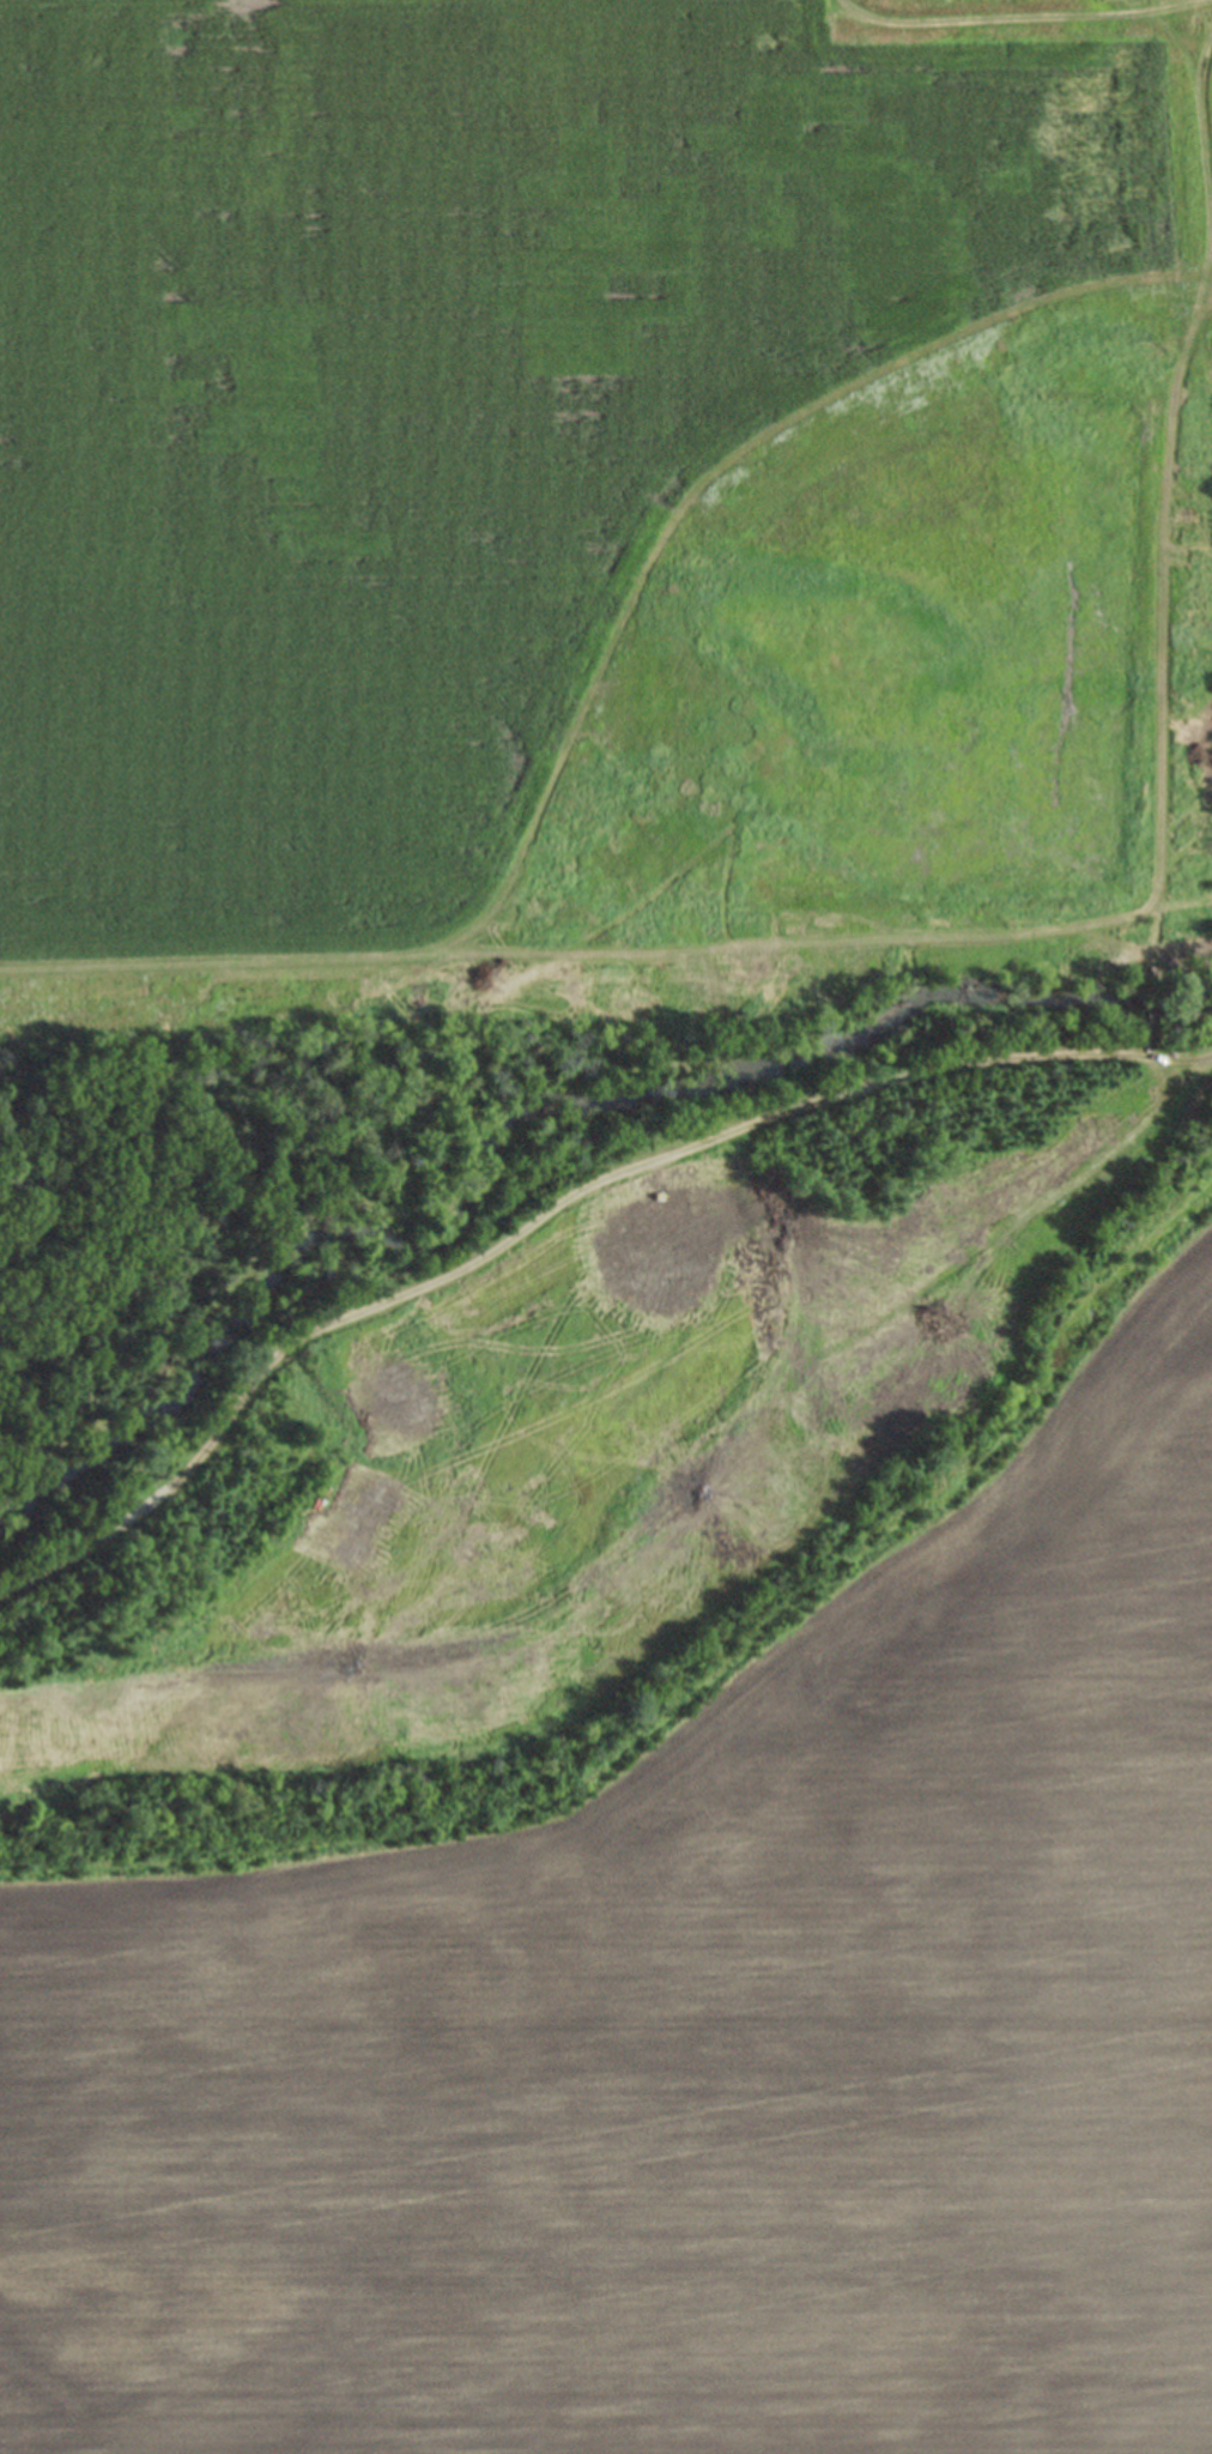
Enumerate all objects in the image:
river: (528, 1111)

